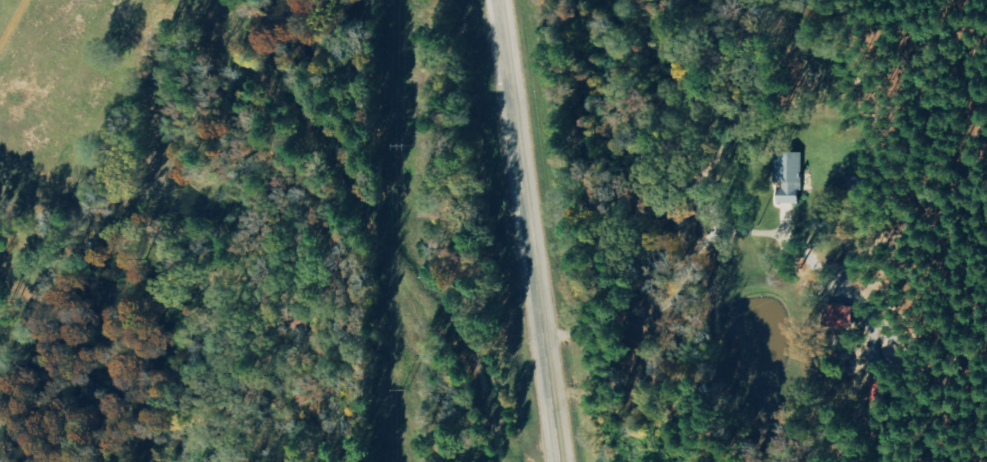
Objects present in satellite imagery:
power tower: (406, 143)
building: (786, 176)
road: (530, 231)
building: (837, 316)
power tower: (405, 389)

